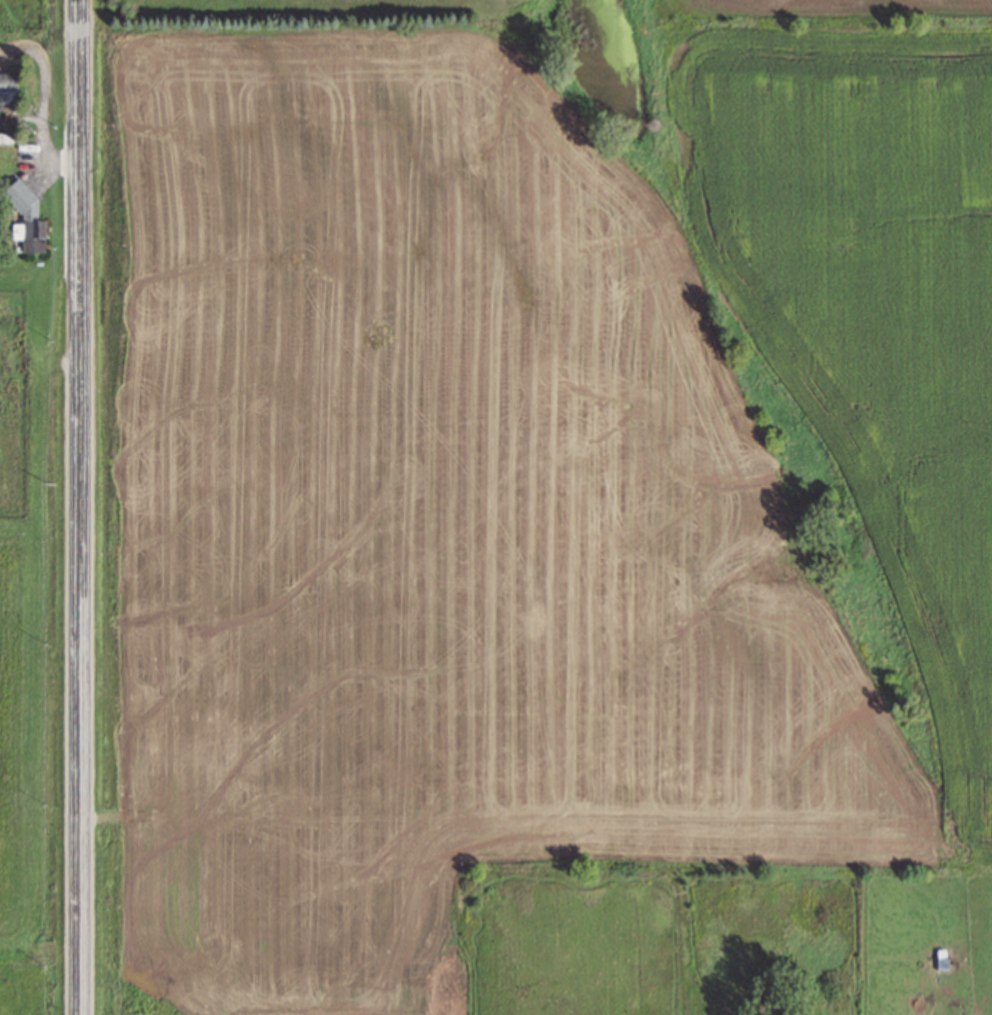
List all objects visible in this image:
building: (8, 105)
building: (24, 218)
road: (78, 507)

